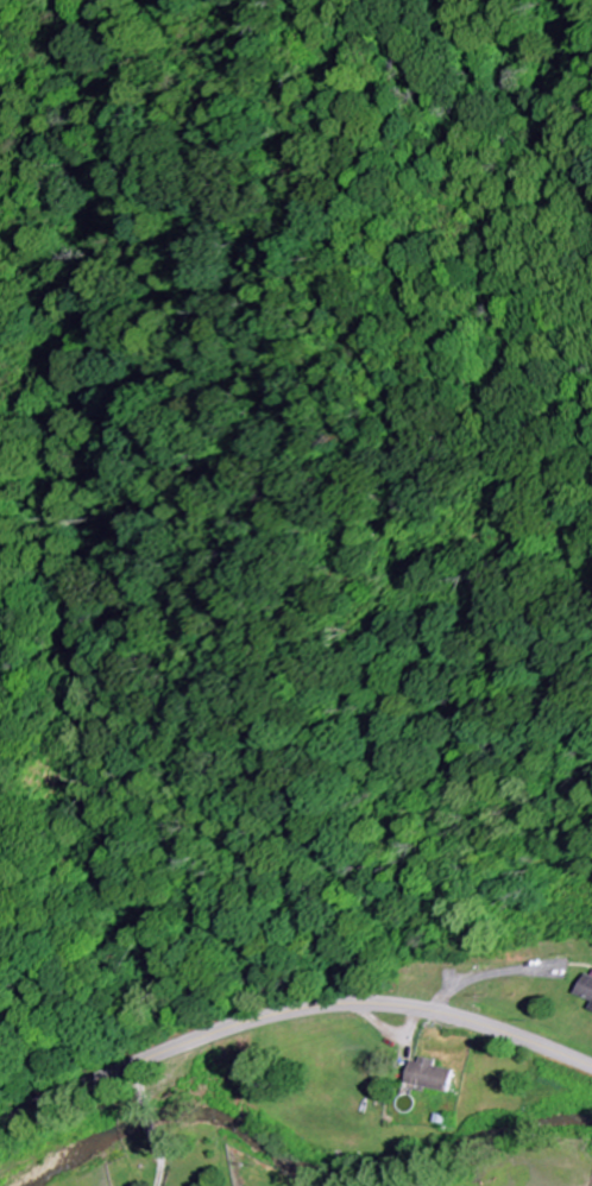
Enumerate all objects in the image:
building: (581, 988)
road: (290, 1004)
building: (429, 1074)

